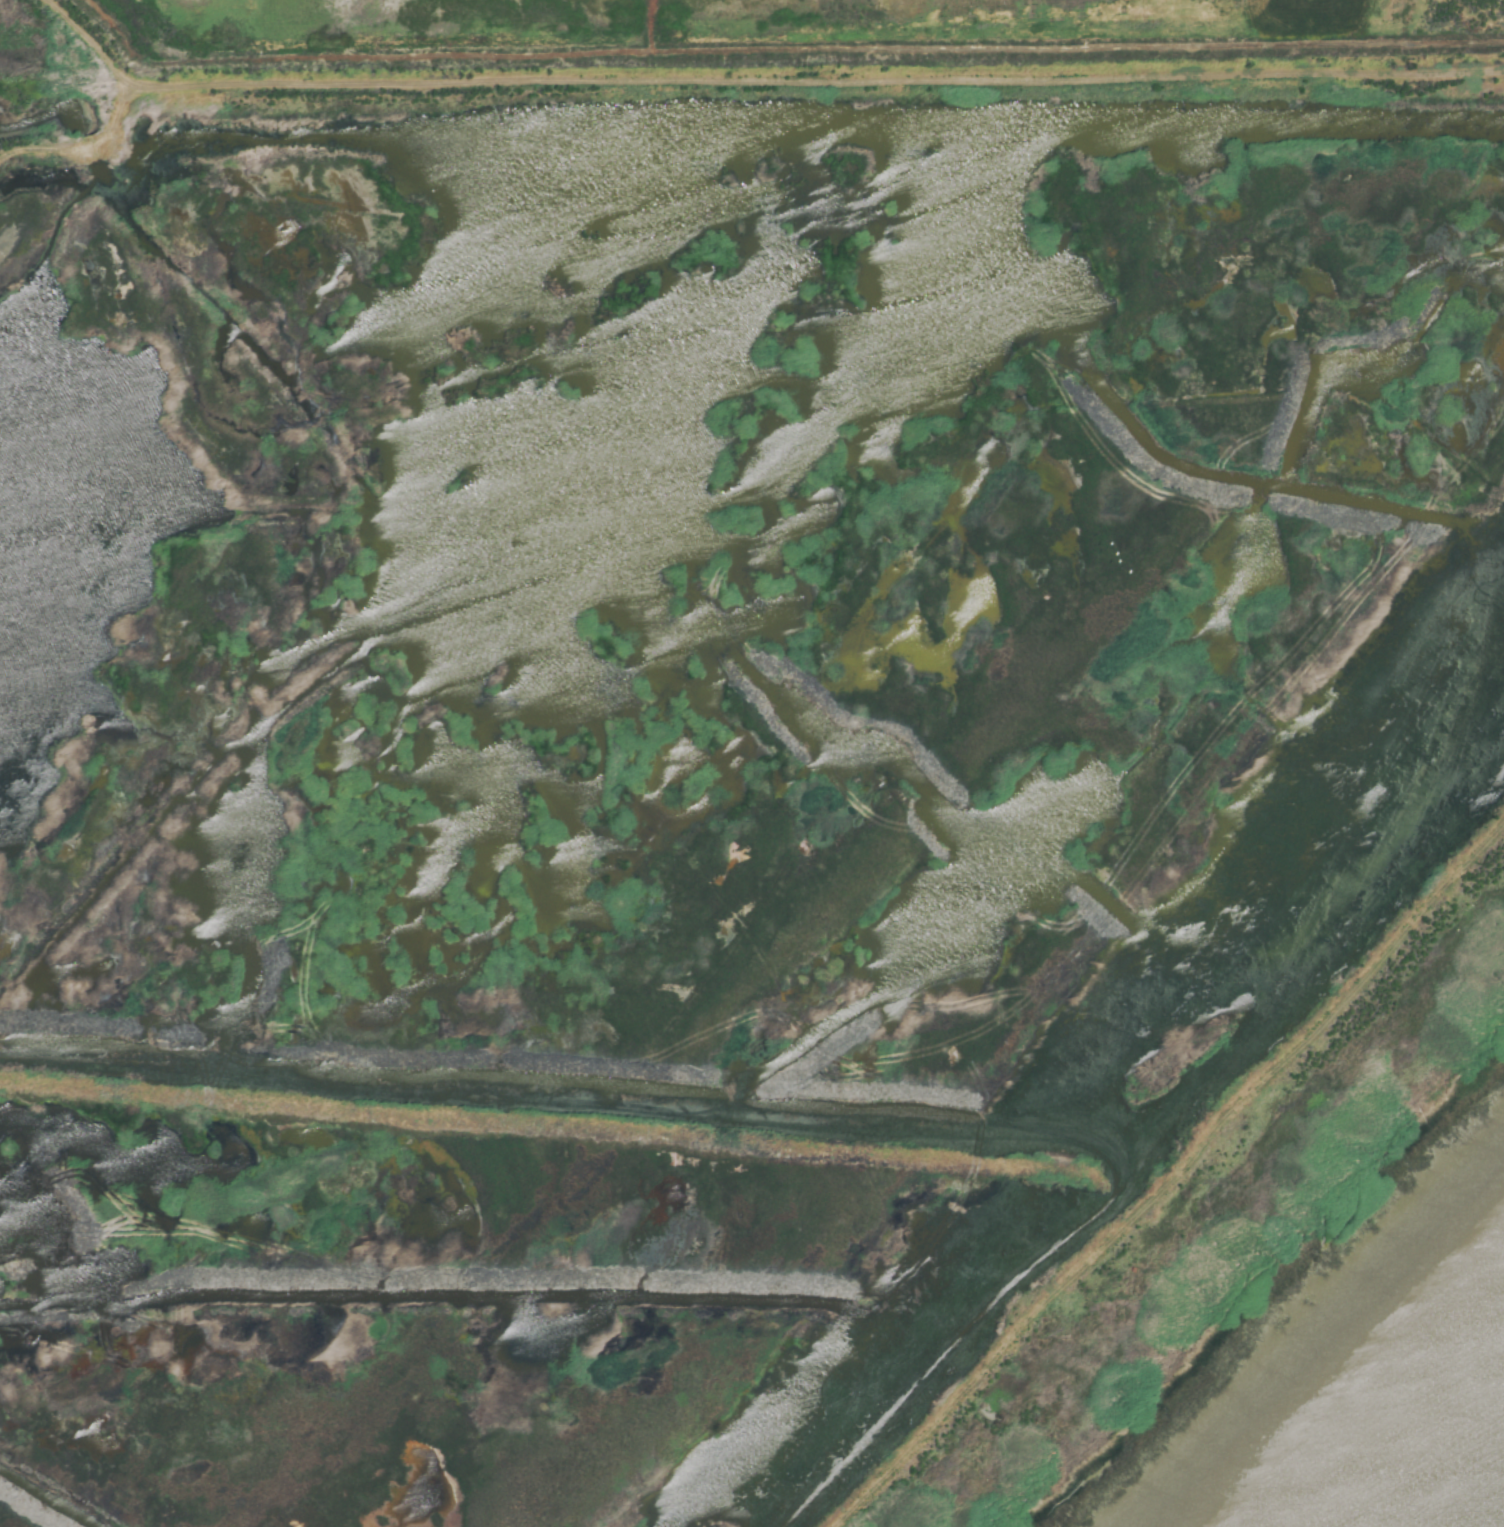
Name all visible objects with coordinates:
road: (813, 82)
road: (123, 116)
road: (1173, 1177)

